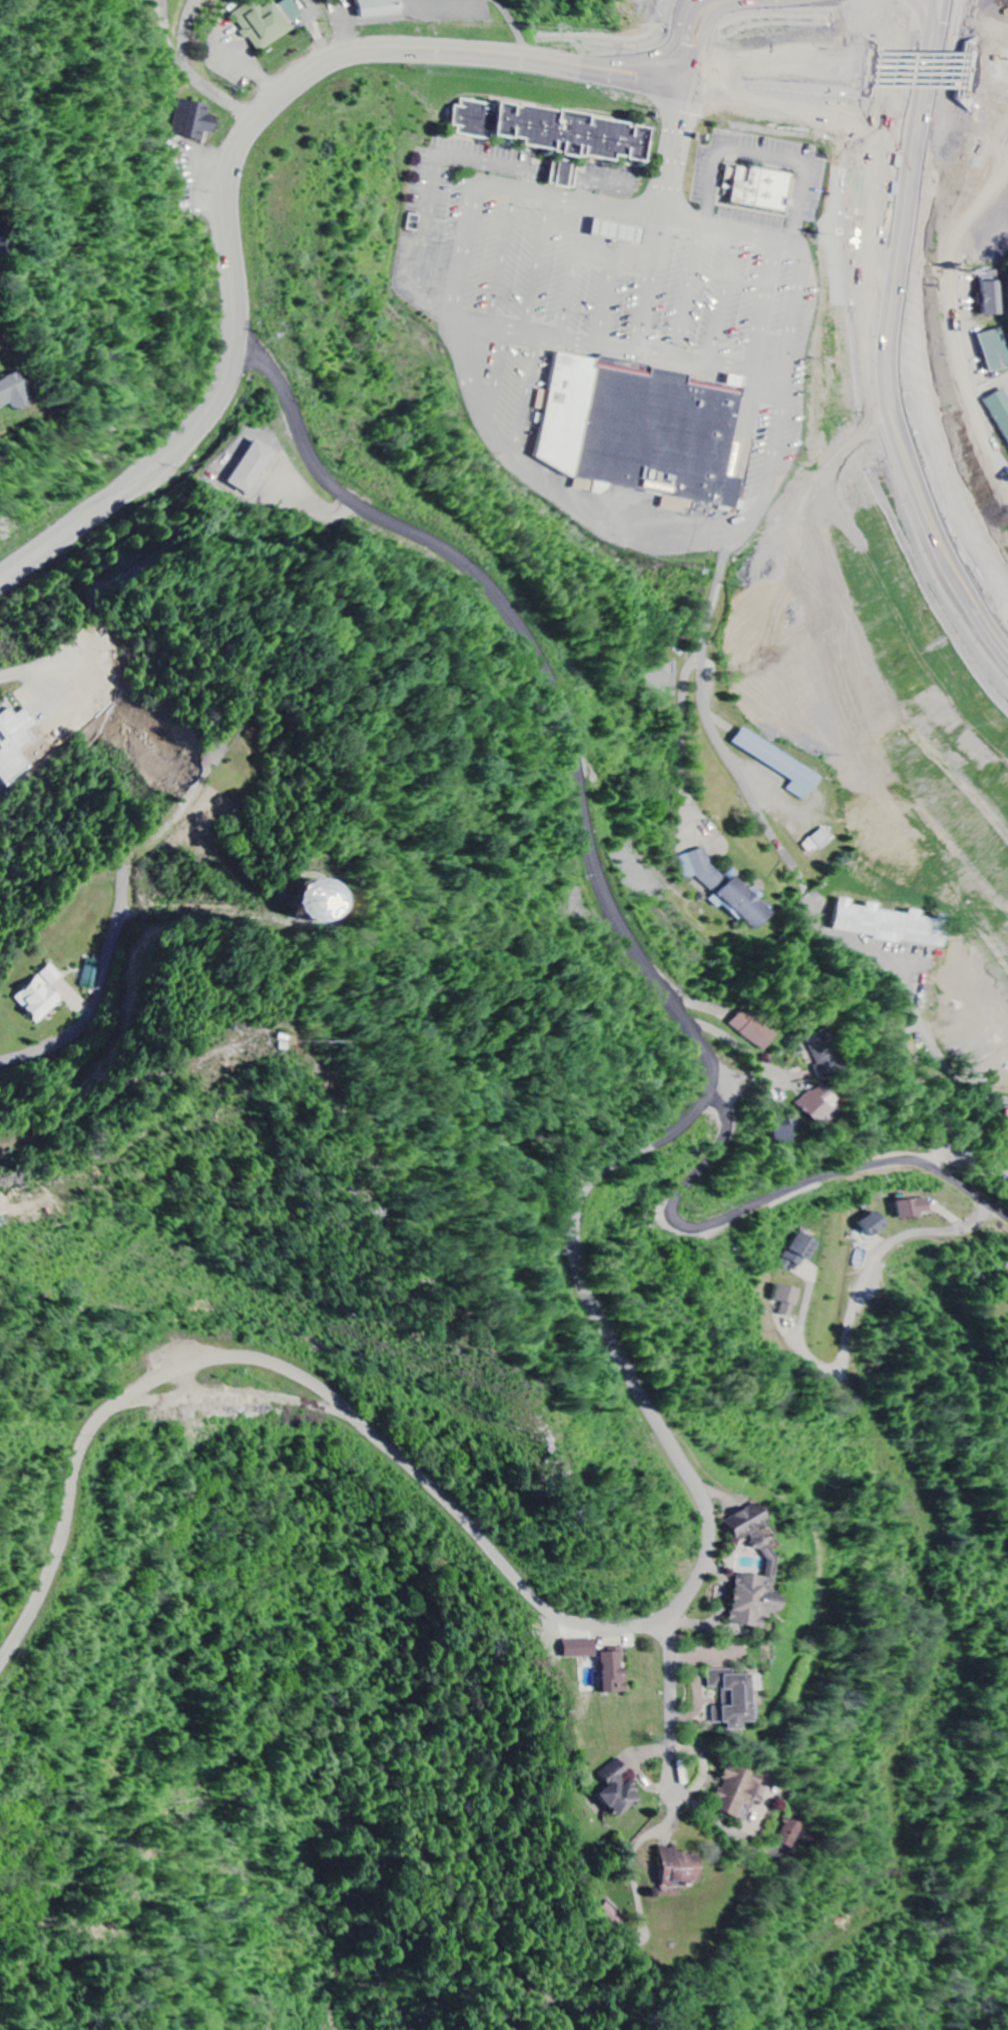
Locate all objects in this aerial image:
building: (381, 9)
building: (267, 23)
road: (932, 42)
road: (358, 48)
road: (977, 56)
road: (209, 65)
building: (195, 122)
building: (551, 125)
building: (563, 169)
building: (758, 184)
building: (618, 229)
gas station: (618, 229)
building: (992, 293)
road: (916, 302)
road: (894, 319)
building: (995, 349)
building: (14, 393)
building: (1000, 408)
building: (642, 426)
building: (252, 467)
road: (51, 543)
building: (14, 741)
road: (569, 751)
building: (781, 764)
building: (821, 840)
building: (726, 889)
building: (330, 901)
building: (888, 925)
road: (735, 988)
building: (42, 995)
road: (914, 1009)
building: (752, 1031)
road: (908, 1040)
building: (821, 1056)
road: (948, 1072)
road: (939, 1121)
building: (1006, 1125)
building: (782, 1135)
road: (955, 1180)
road: (796, 1184)
building: (914, 1209)
building: (876, 1225)
building: (801, 1252)
building: (788, 1300)
power tower: (539, 1443)
building: (771, 1567)
road: (529, 1592)
building: (615, 1671)
building: (733, 1697)
road: (671, 1704)
building: (620, 1789)
building: (737, 1792)
building: (788, 1834)
building: (680, 1867)
building: (609, 1914)

